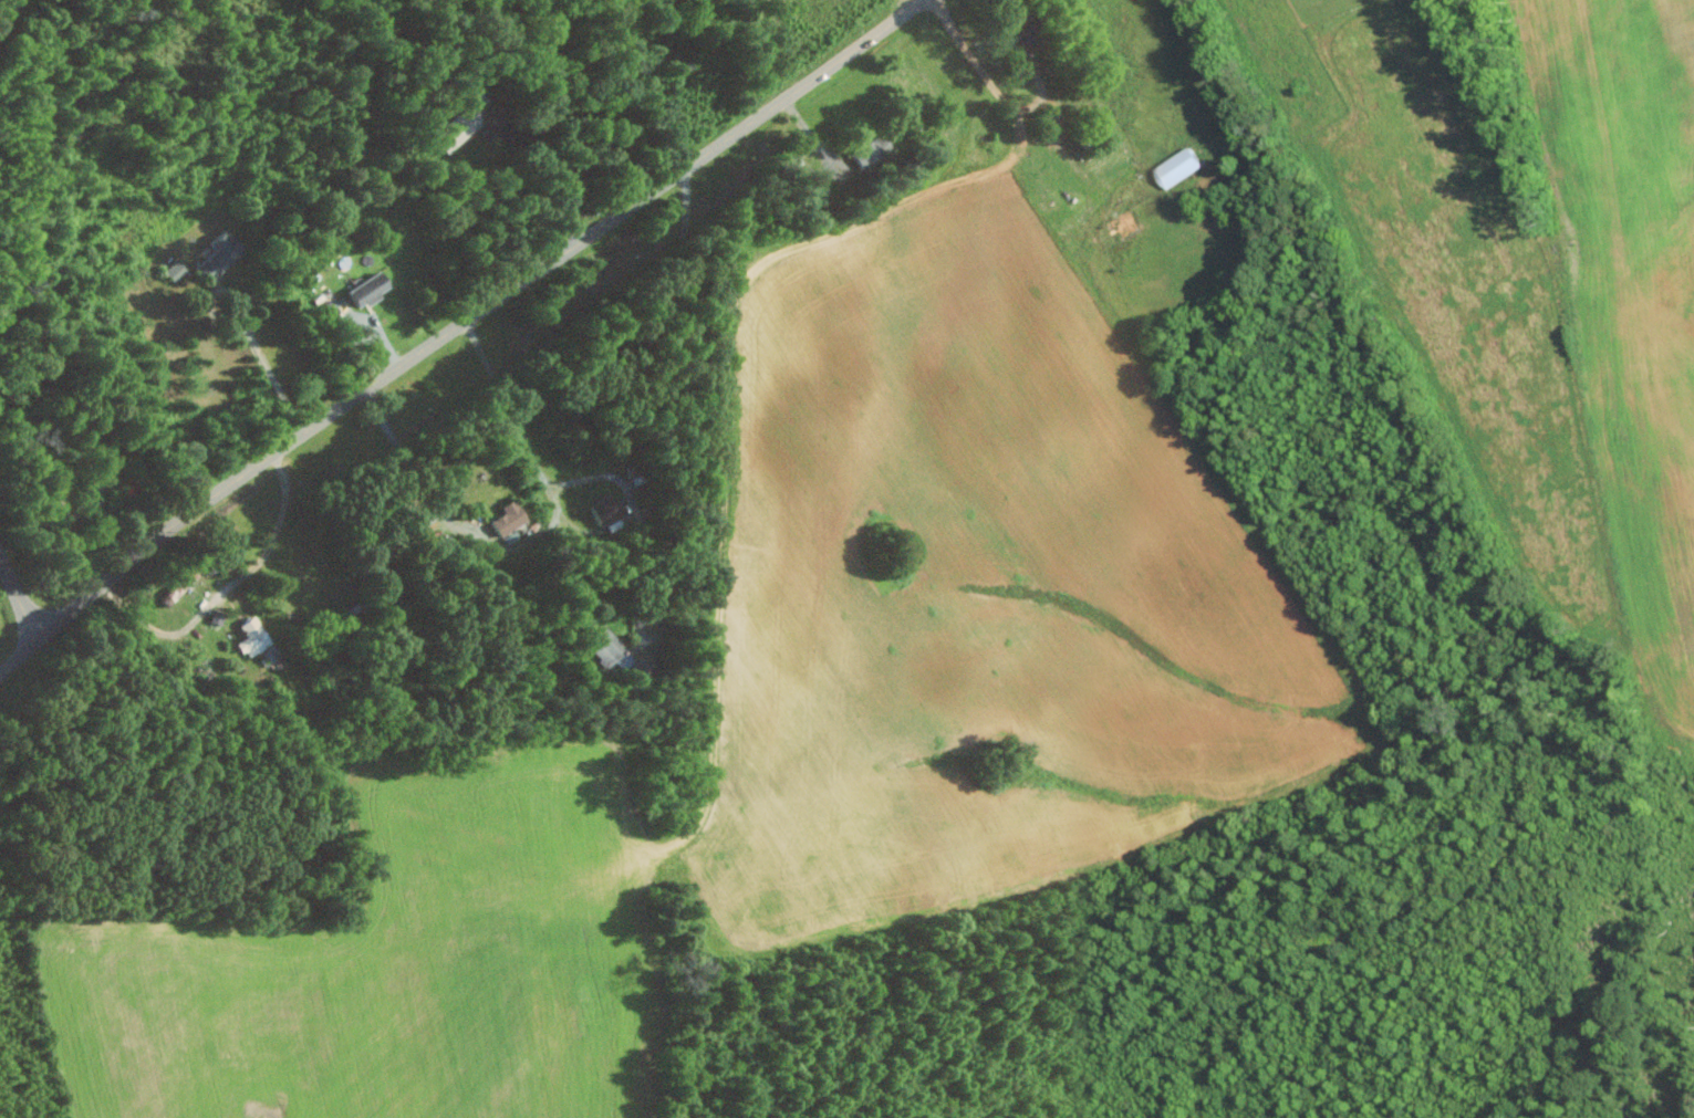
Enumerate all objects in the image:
road: (1008, 107)
building: (460, 126)
building: (873, 154)
road: (539, 166)
building: (1171, 167)
building: (221, 257)
building: (177, 269)
building: (371, 289)
road: (249, 326)
road: (457, 331)
road: (673, 405)
road: (633, 499)
building: (610, 509)
building: (511, 516)
road: (647, 536)
road: (537, 537)
road: (20, 595)
road: (250, 597)
building: (254, 636)
building: (615, 647)

